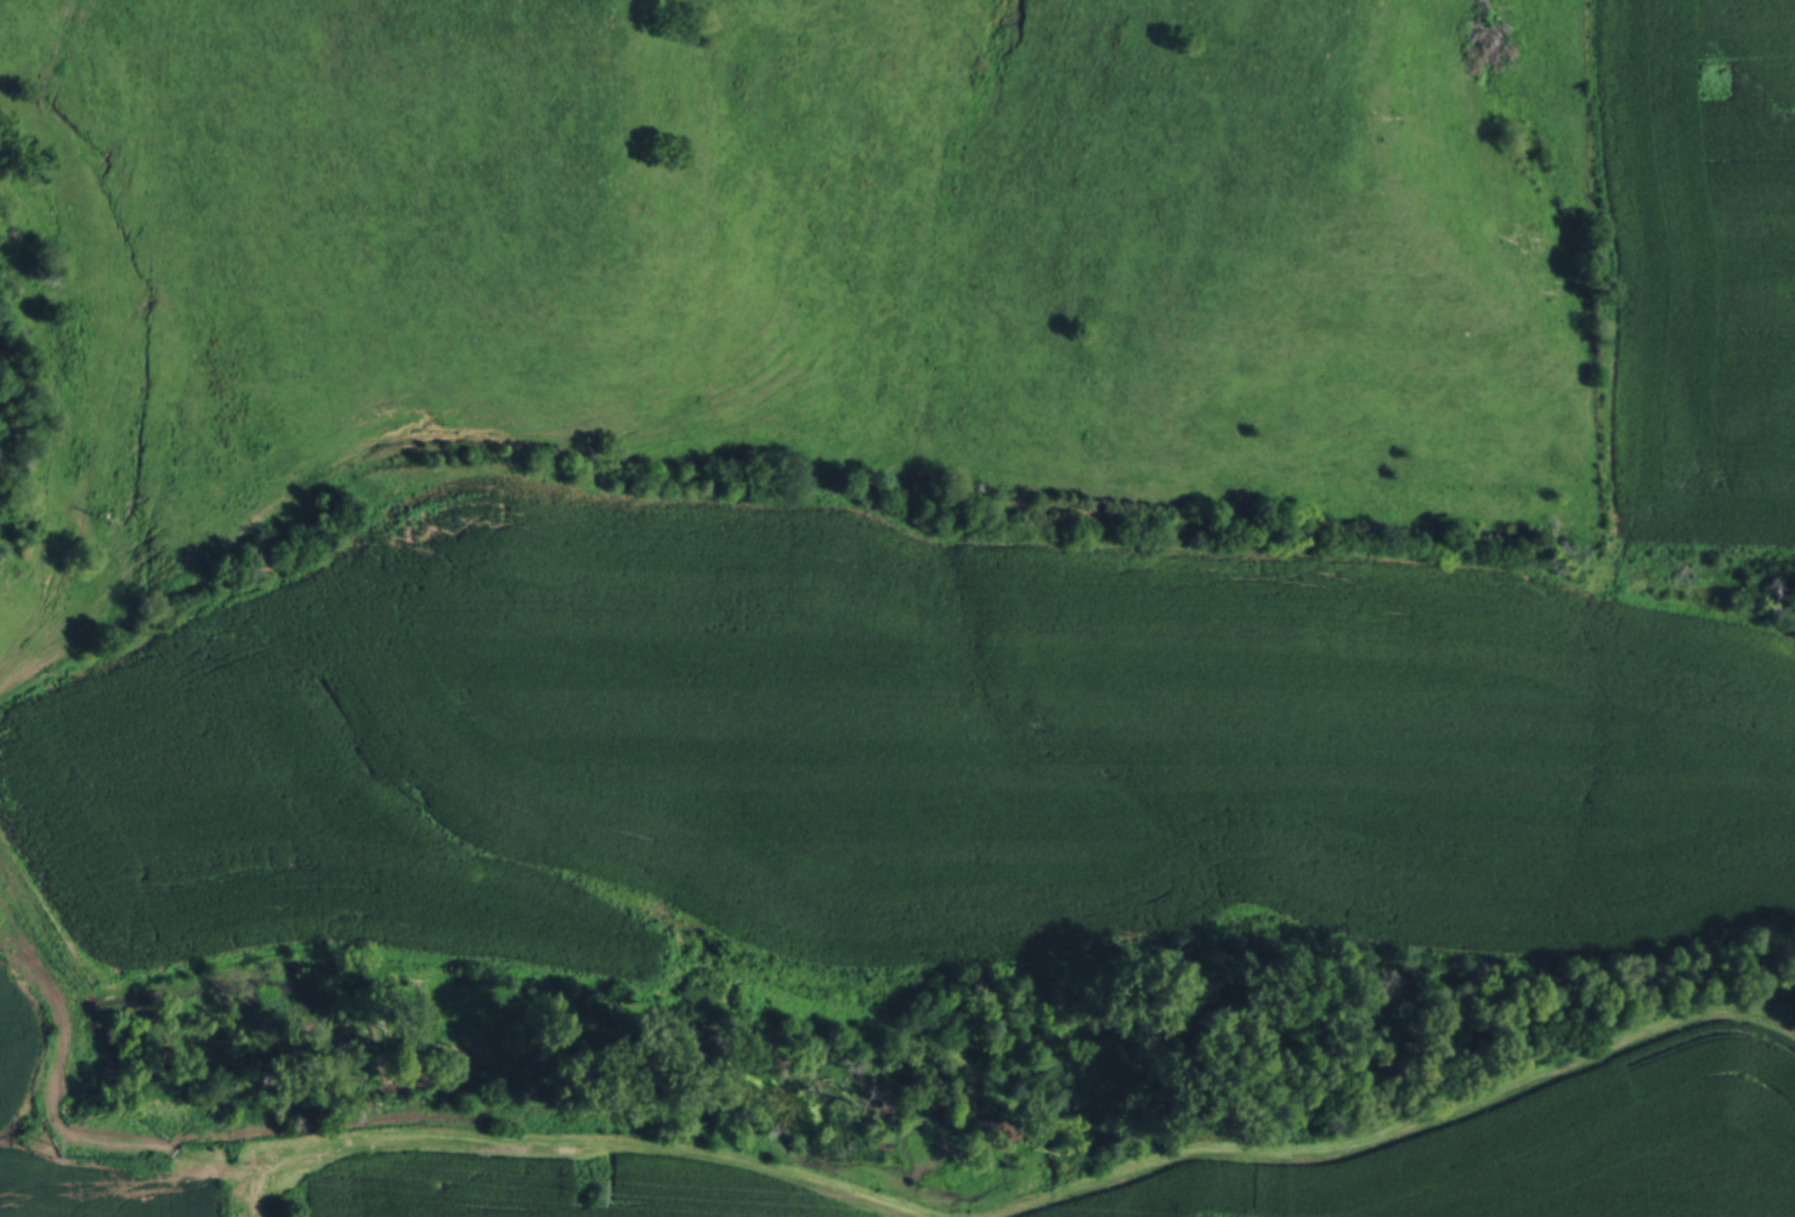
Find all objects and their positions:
road: (50, 1123)
power tower: (47, 1147)
power tower: (591, 1189)
road: (253, 1204)

